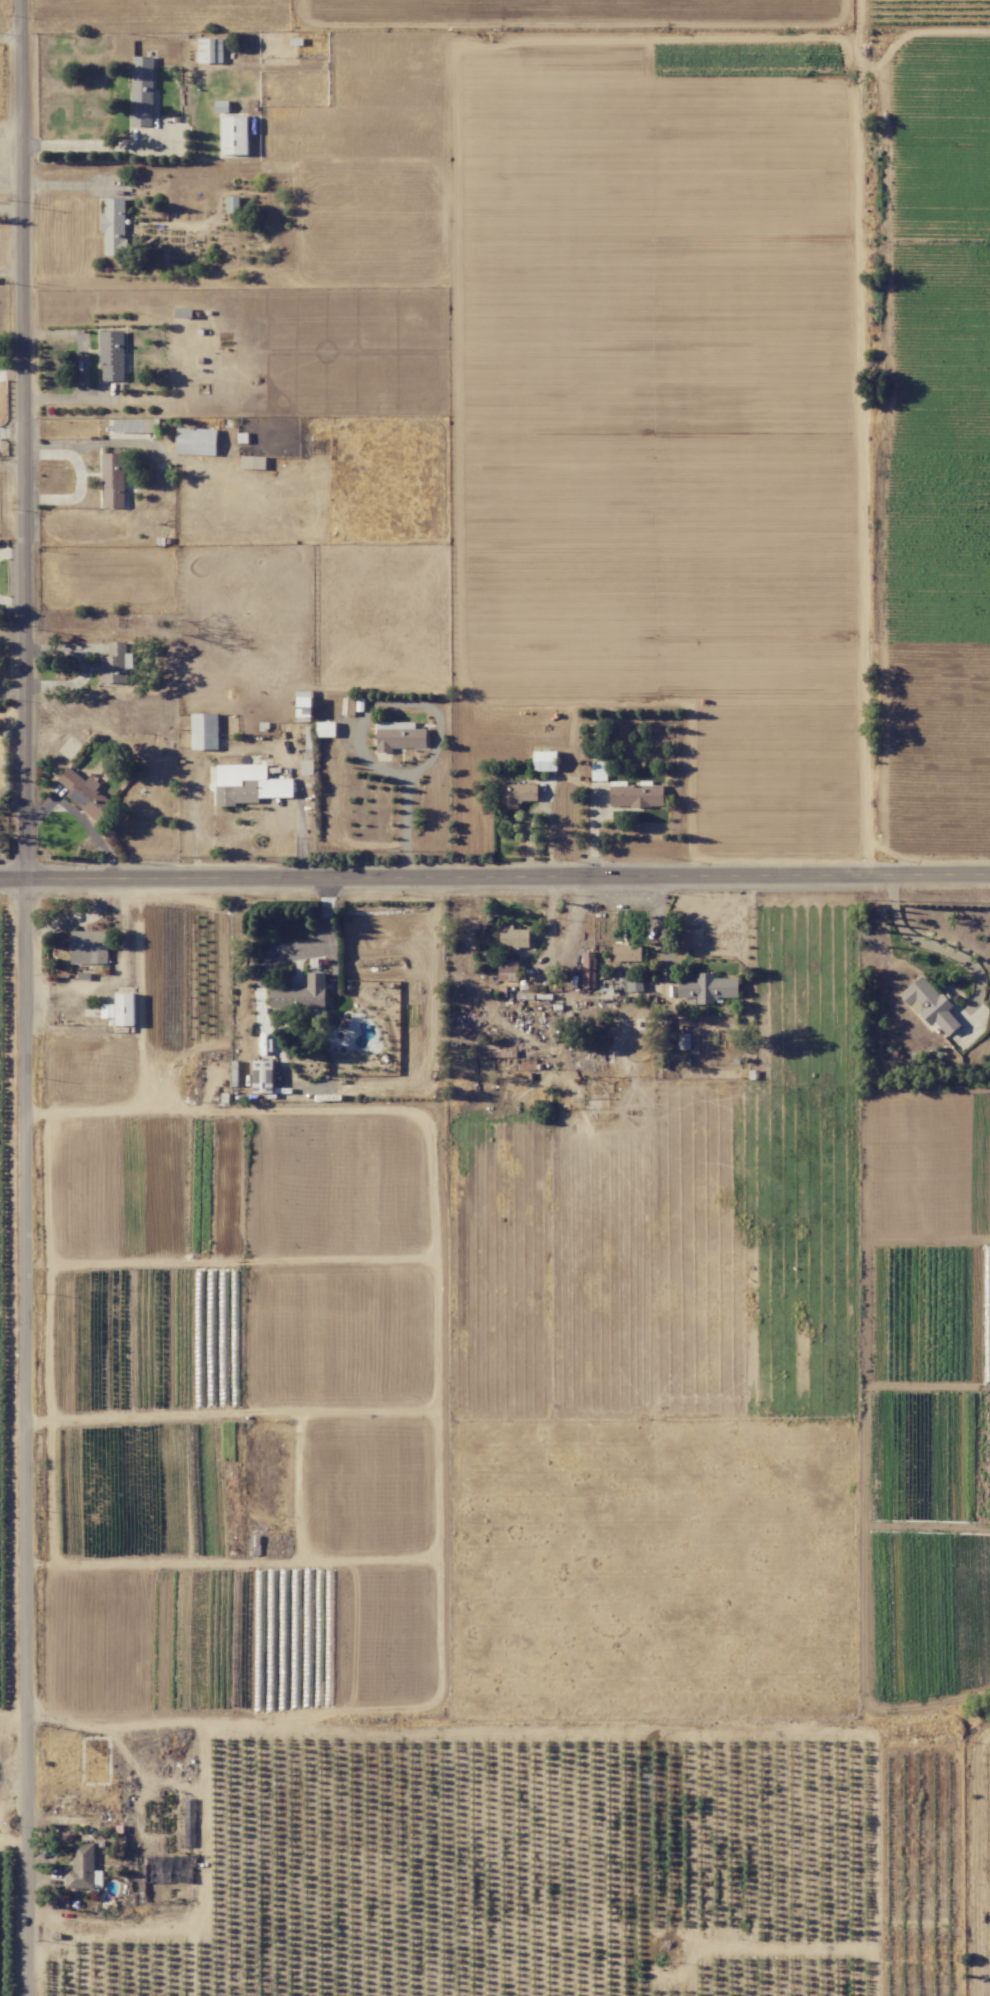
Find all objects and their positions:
road: (11, 37)
building: (210, 50)
building: (141, 91)
building: (221, 106)
road: (96, 145)
building: (233, 204)
road: (11, 208)
building: (113, 226)
road: (12, 271)
building: (112, 355)
building: (136, 425)
building: (196, 441)
road: (12, 461)
building: (253, 462)
building: (113, 480)
building: (115, 664)
building: (348, 706)
building: (325, 729)
building: (204, 731)
building: (398, 736)
building: (545, 760)
building: (598, 771)
building: (249, 784)
building: (85, 793)
building: (517, 794)
building: (635, 794)
road: (494, 872)
building: (513, 937)
road: (925, 941)
building: (88, 947)
building: (627, 953)
building: (588, 969)
building: (507, 970)
road: (259, 977)
building: (634, 983)
building: (708, 988)
building: (301, 994)
road: (29, 997)
building: (930, 1004)
building: (124, 1009)
building: (107, 1011)
building: (683, 1041)
building: (262, 1076)
road: (311, 1411)
road: (222, 1560)
road: (14, 1712)
road: (11, 1839)

